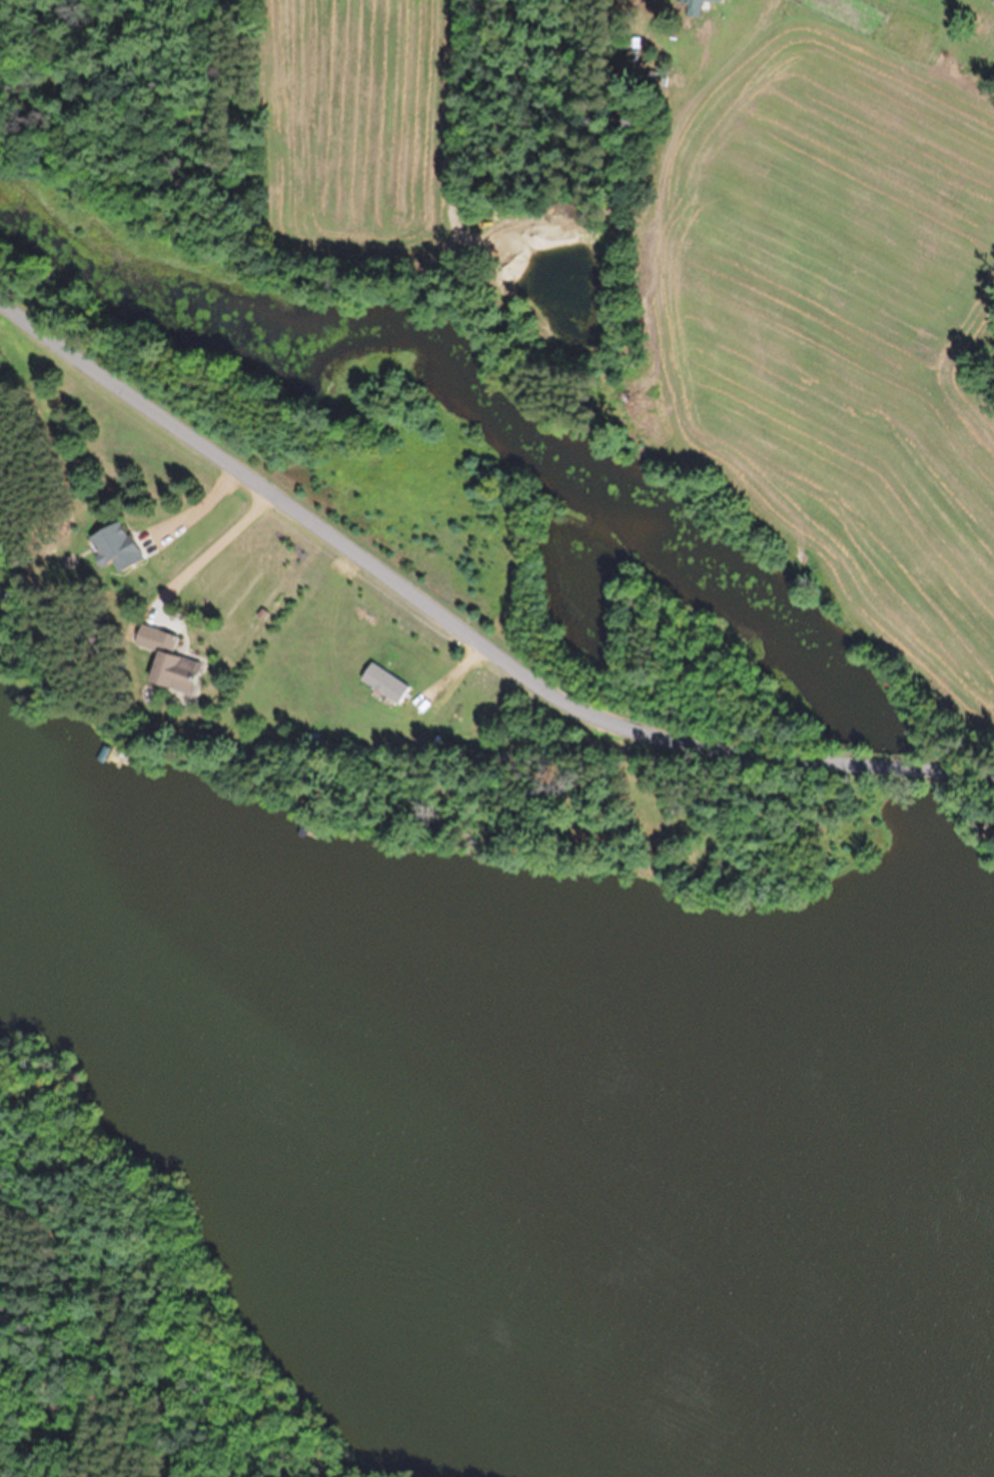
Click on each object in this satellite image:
building: (716, 0)
building: (692, 8)
crop: (364, 150)
crop: (839, 348)
road: (194, 509)
building: (114, 544)
road: (208, 550)
road: (399, 584)
building: (170, 665)
road: (890, 763)
road: (966, 765)
river: (521, 1111)
road: (91, 1293)
park: (128, 1319)

